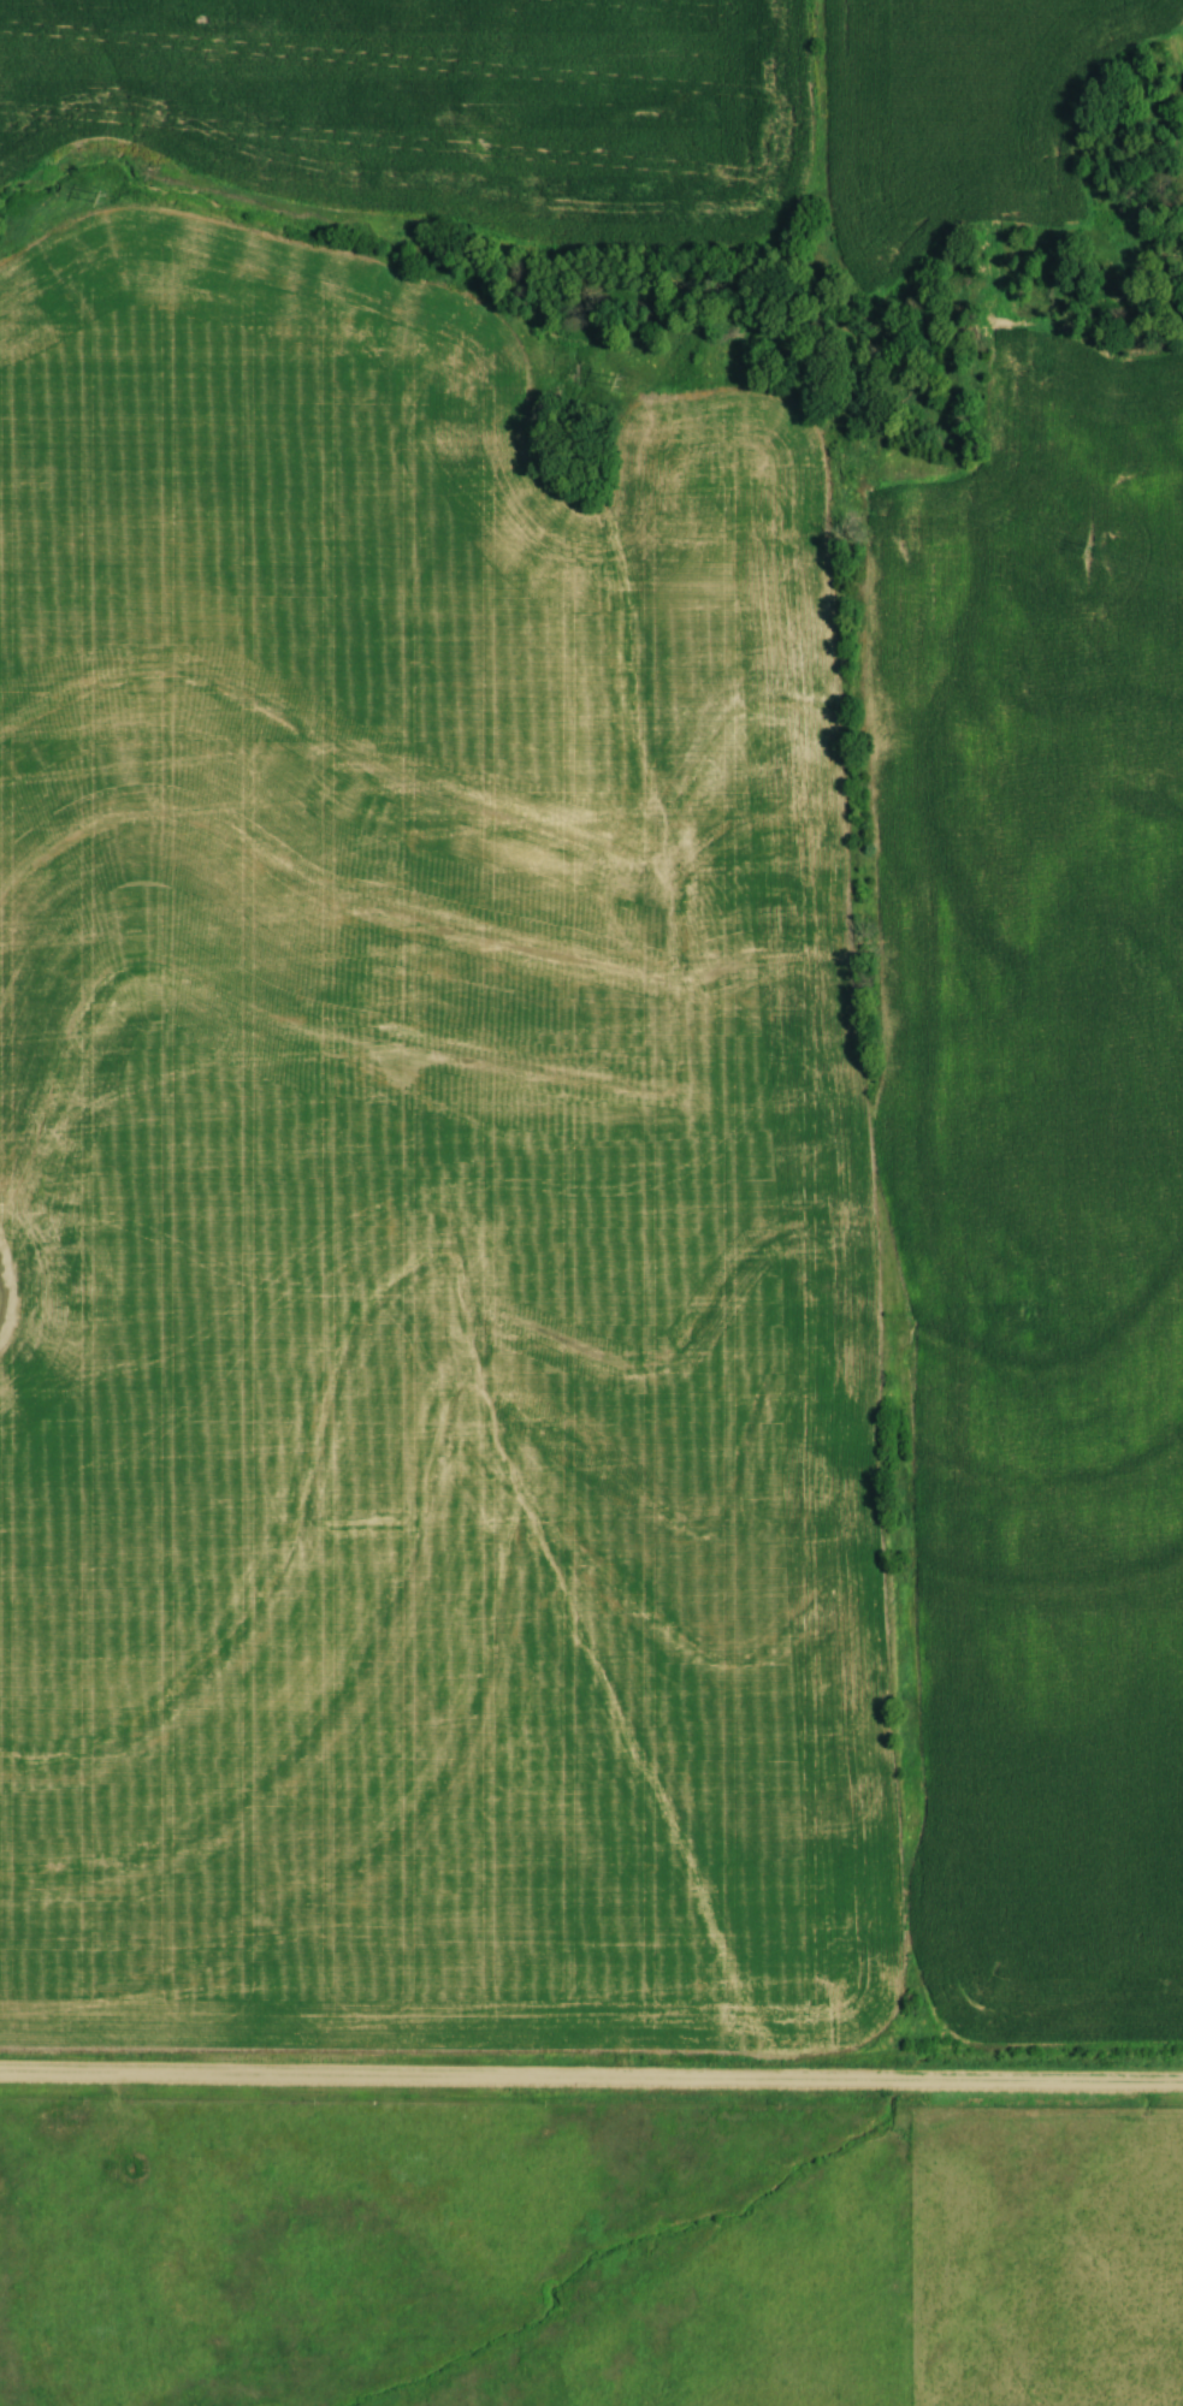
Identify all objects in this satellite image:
road: (591, 2078)

